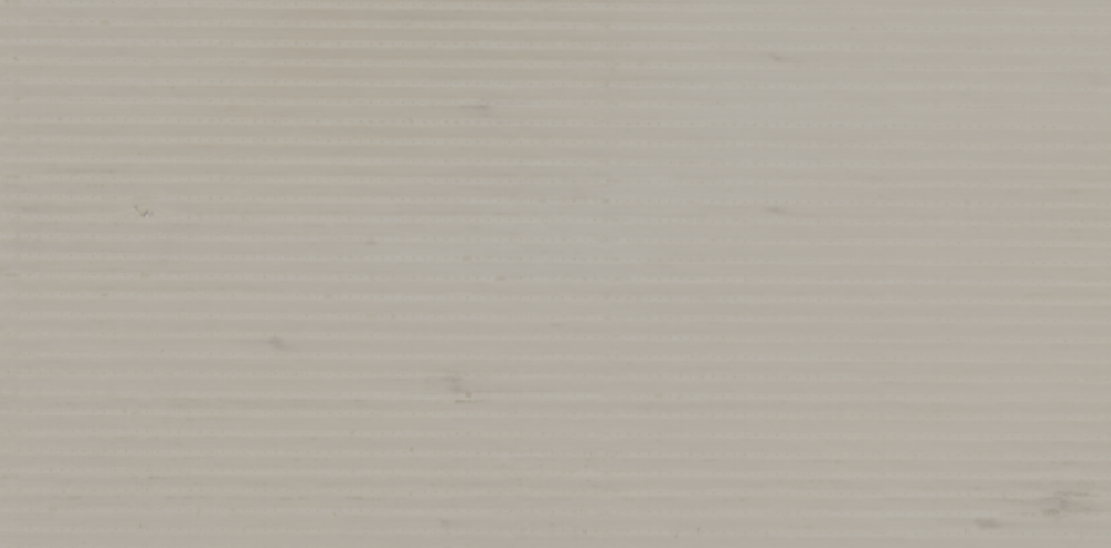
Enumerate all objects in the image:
crop: (555, 274)

